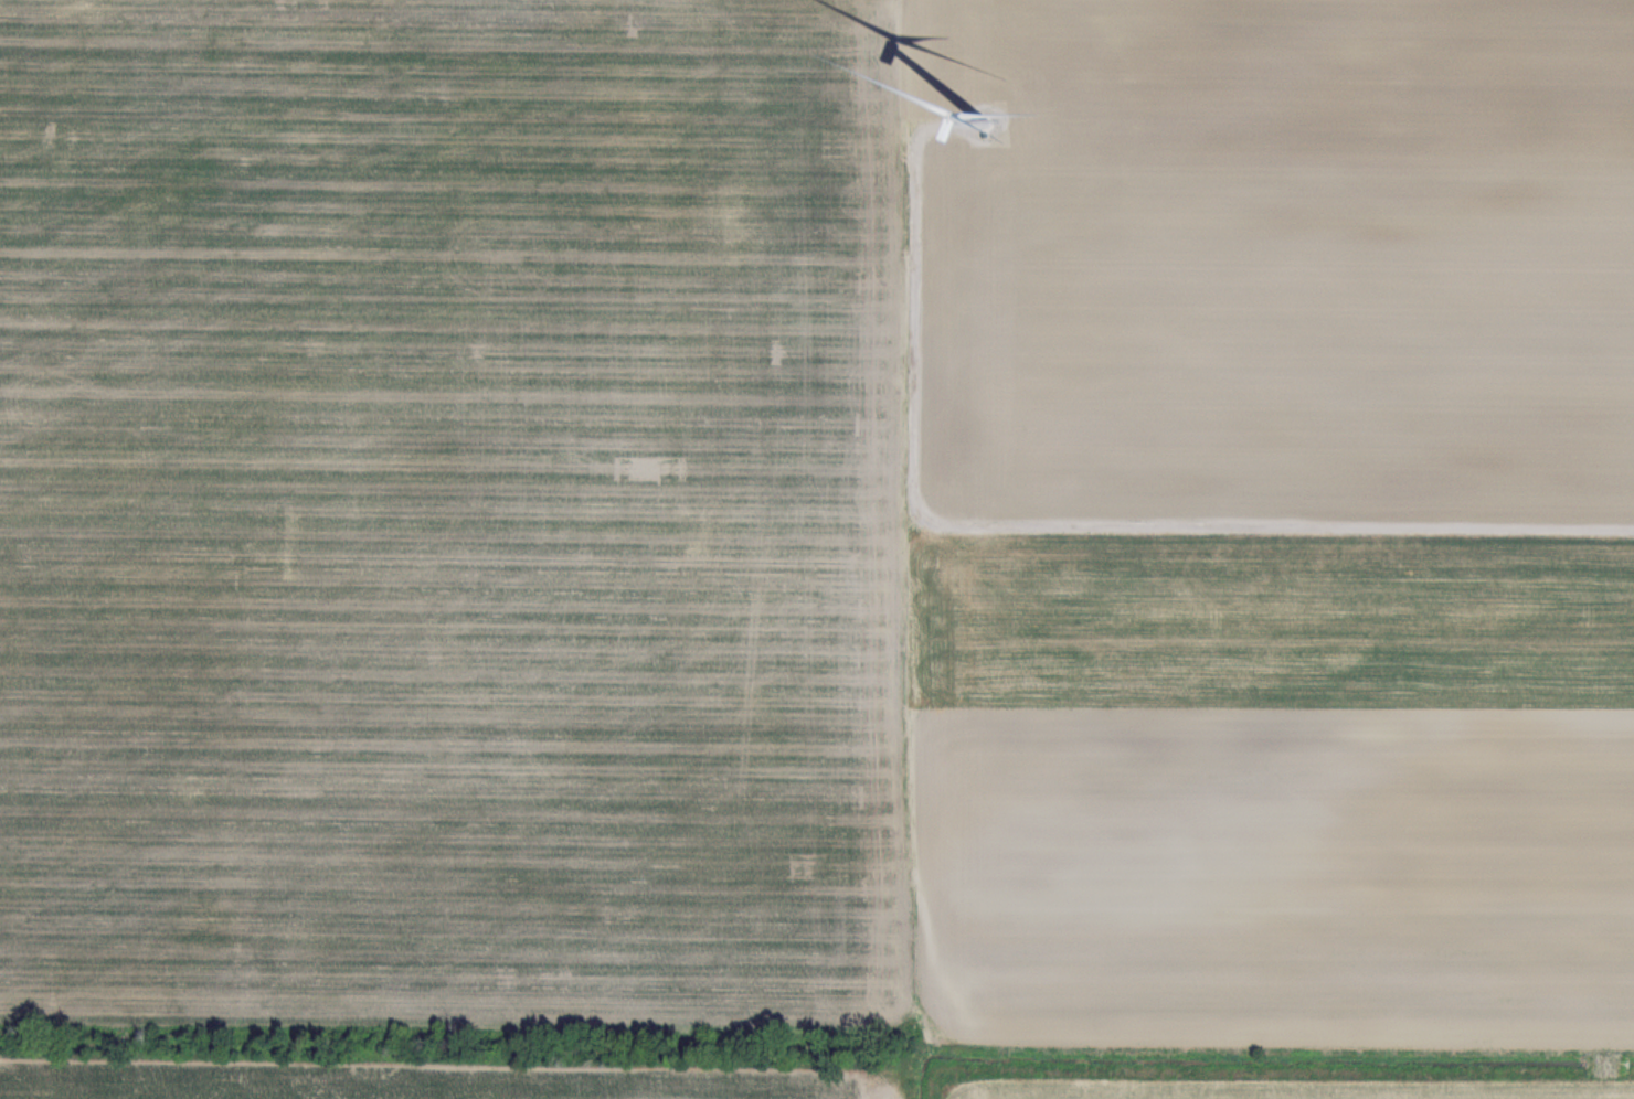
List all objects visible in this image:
wind turbine: (984, 125)

